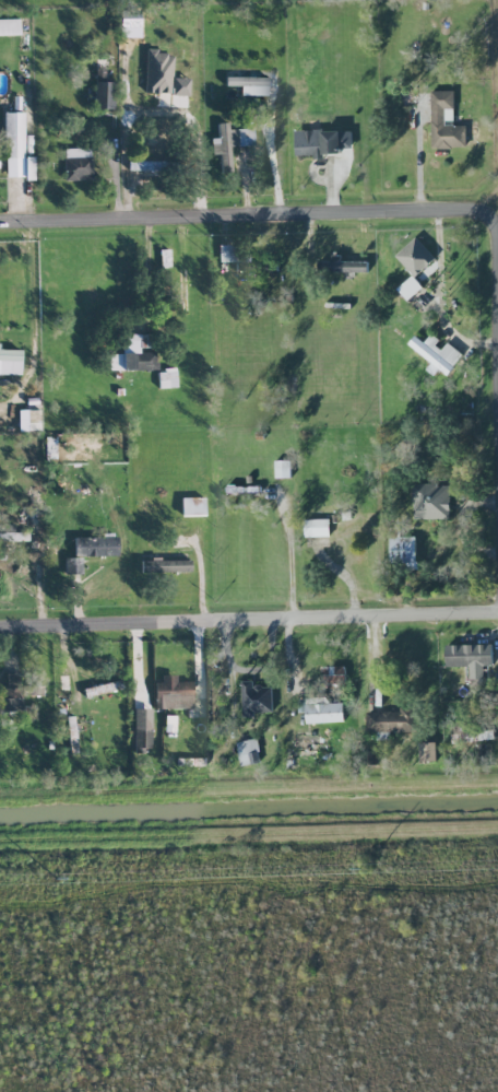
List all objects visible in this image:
park: (134, 1)
building: (129, 19)
building: (9, 26)
building: (162, 74)
building: (248, 84)
building: (444, 122)
building: (13, 134)
building: (322, 142)
building: (225, 144)
building: (76, 163)
road: (272, 164)
building: (146, 165)
road: (419, 166)
road: (244, 215)
building: (415, 257)
building: (342, 266)
road: (495, 278)
building: (410, 287)
road: (441, 295)
road: (34, 320)
building: (437, 354)
building: (131, 356)
building: (10, 361)
building: (166, 378)
building: (283, 469)
building: (431, 502)
building: (192, 506)
building: (317, 528)
building: (2, 532)
building: (95, 545)
building: (403, 550)
road: (292, 555)
building: (72, 565)
building: (165, 565)
road: (249, 620)
building: (471, 658)
building: (334, 676)
building: (103, 688)
building: (11, 693)
building: (171, 693)
building: (256, 698)
road: (260, 706)
building: (323, 711)
building: (390, 721)
building: (142, 728)
building: (472, 732)
building: (309, 743)
building: (249, 752)
building: (427, 752)
power tower: (376, 868)
power tower: (74, 878)

